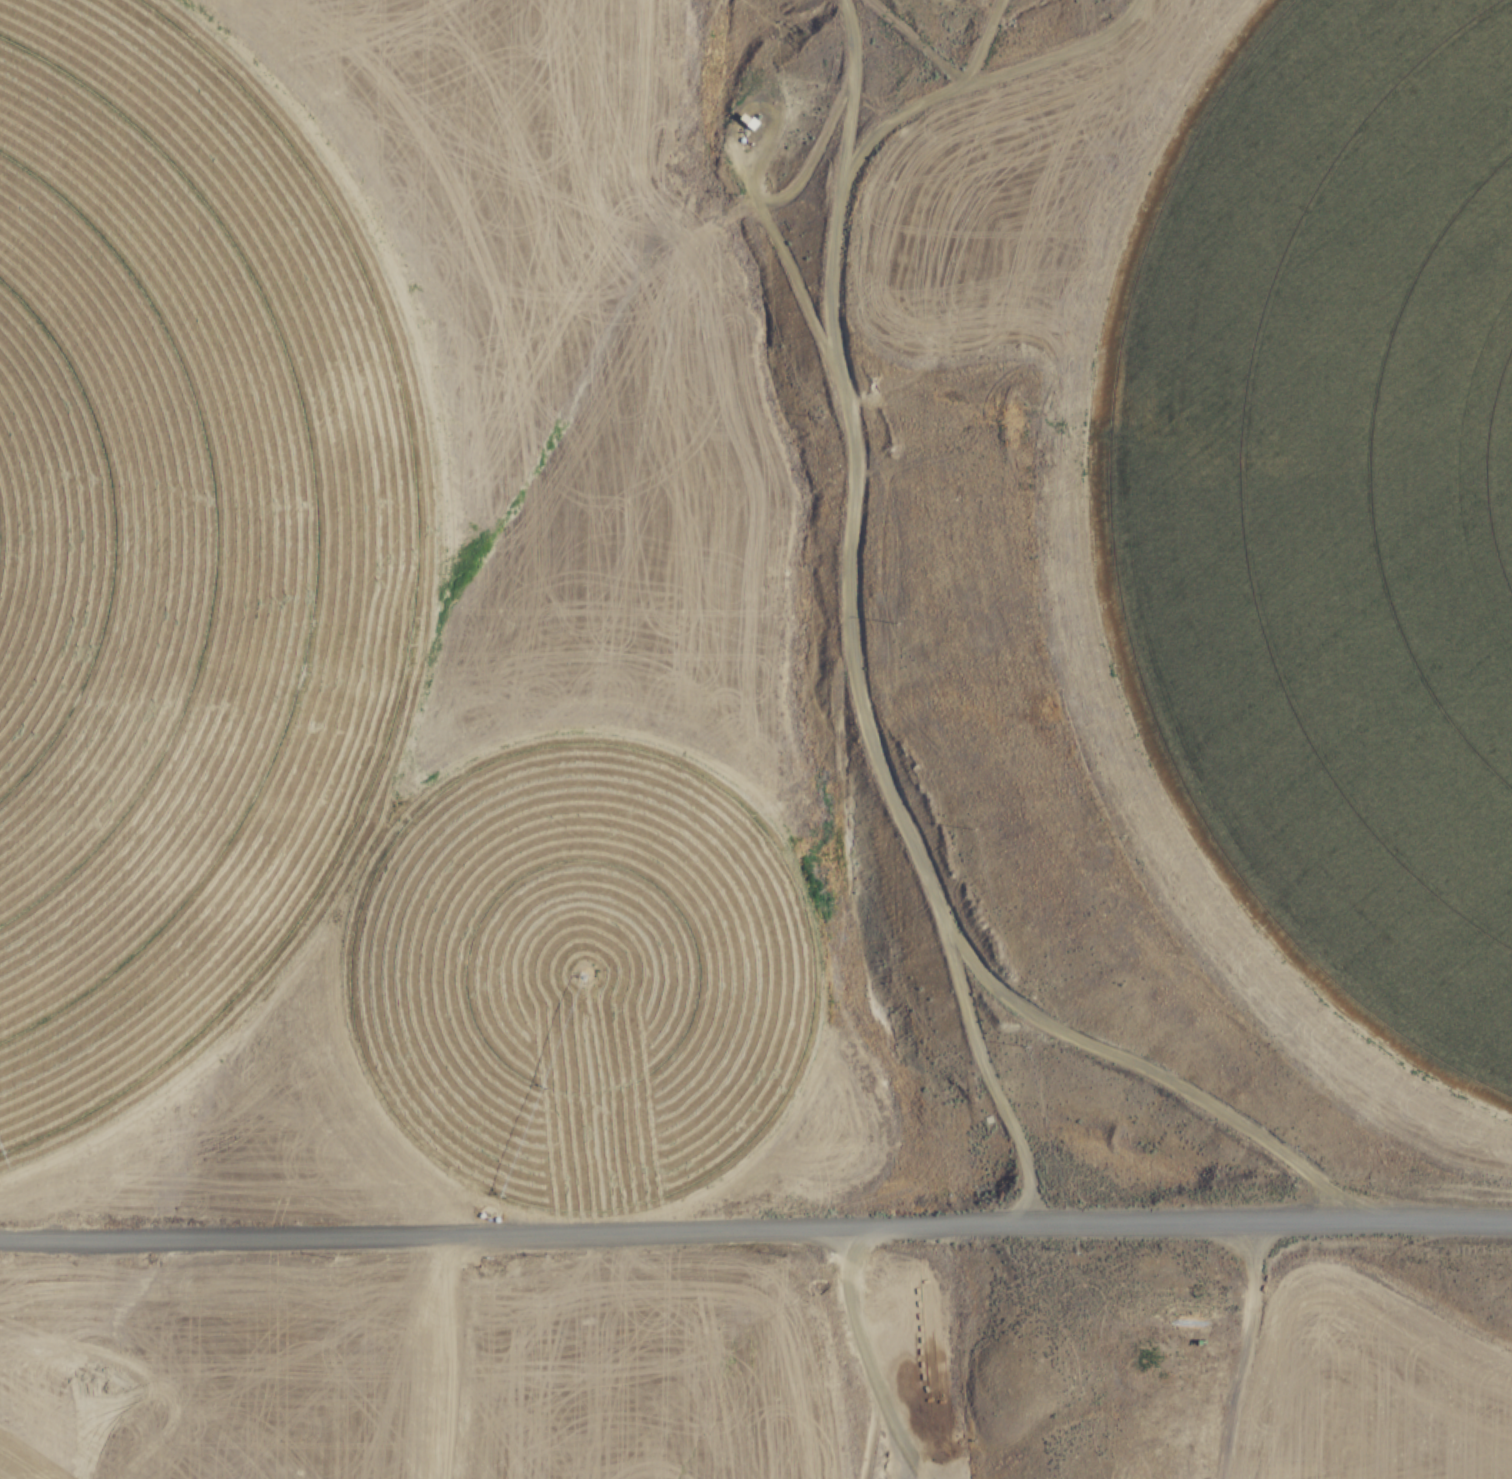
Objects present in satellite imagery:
building: (752, 126)
crop: (1344, 506)
crop: (188, 564)
crop: (595, 978)
road: (755, 1236)
crop: (10, 1469)

